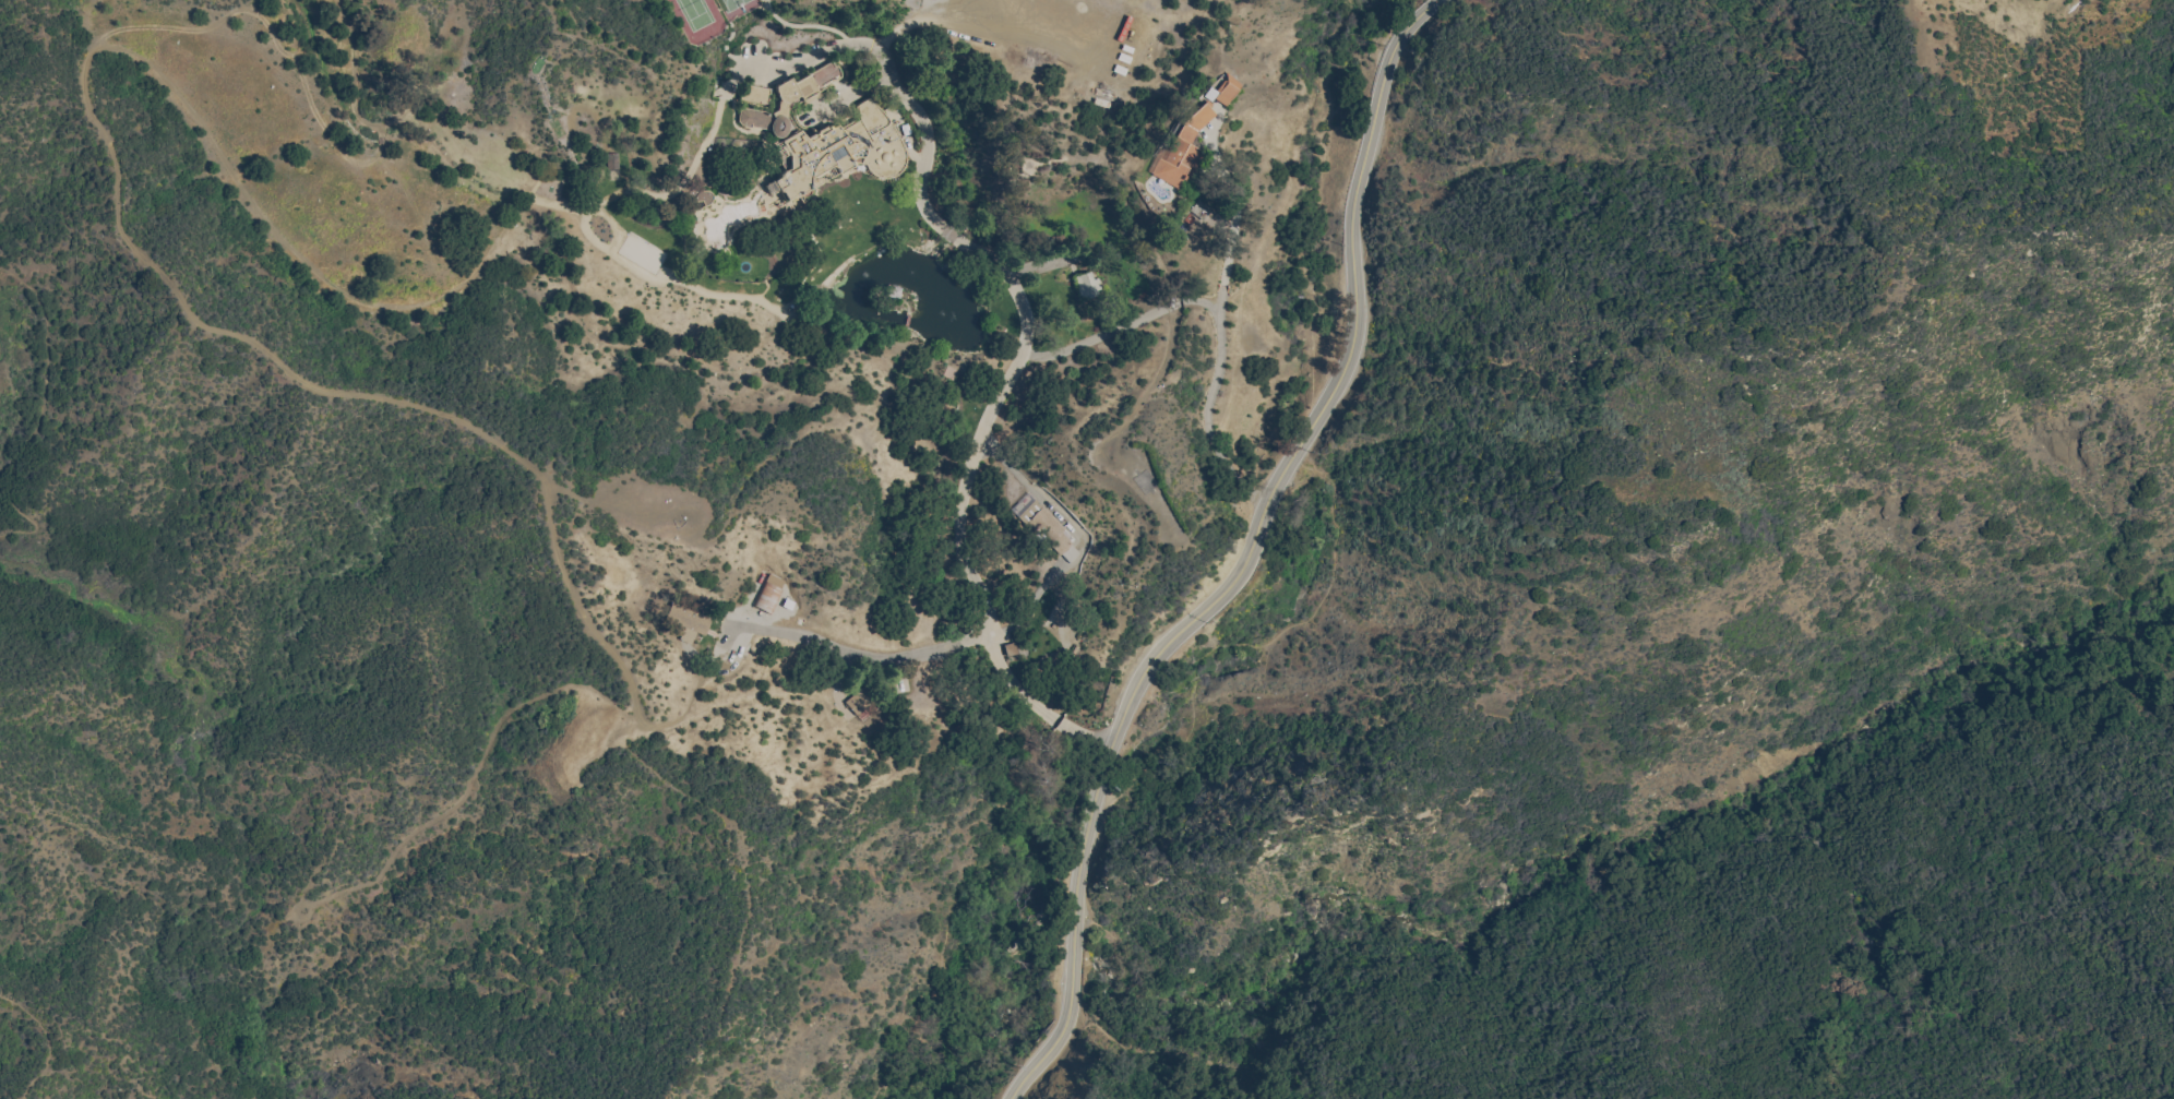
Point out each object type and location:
building: (1222, 92)
building: (755, 96)
building: (825, 140)
building: (1181, 150)
building: (612, 166)
building: (705, 199)
building: (1202, 210)
road: (1230, 237)
building: (1087, 287)
road: (1173, 304)
road: (1023, 339)
road: (1091, 341)
road: (1206, 406)
road: (1335, 488)
road: (1035, 491)
building: (1048, 531)
road: (1070, 553)
road: (1247, 557)
building: (769, 596)
road: (1030, 605)
building: (689, 623)
road: (860, 657)
building: (858, 704)
road: (1018, 881)
road: (942, 1020)
road: (46, 1043)

